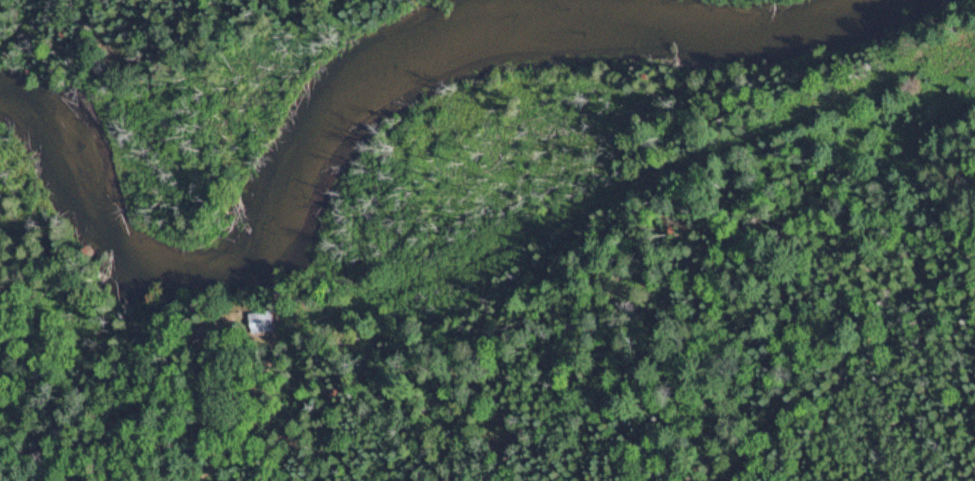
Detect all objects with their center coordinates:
river: (736, 26)
river: (287, 235)
road: (791, 290)
building: (264, 321)
road: (214, 420)

